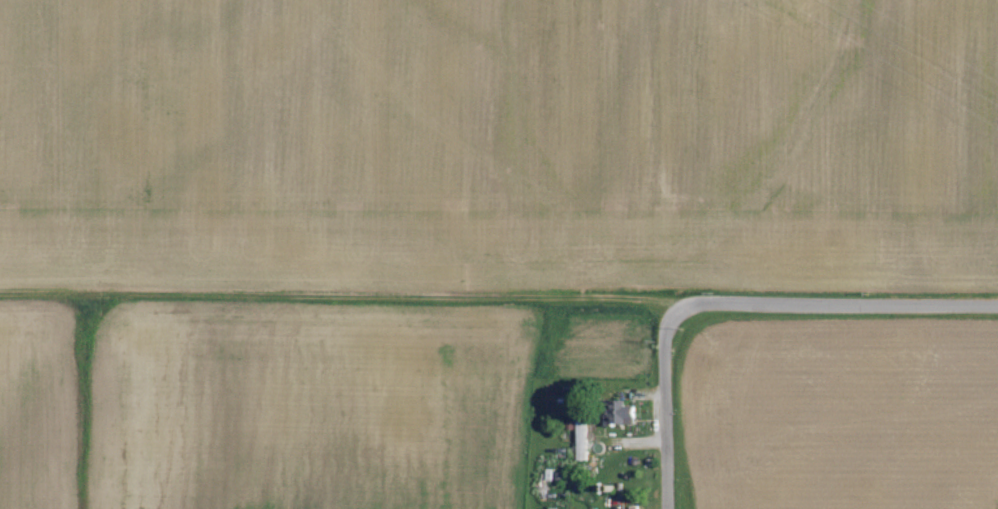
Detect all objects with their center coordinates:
road: (851, 306)
road: (672, 398)

